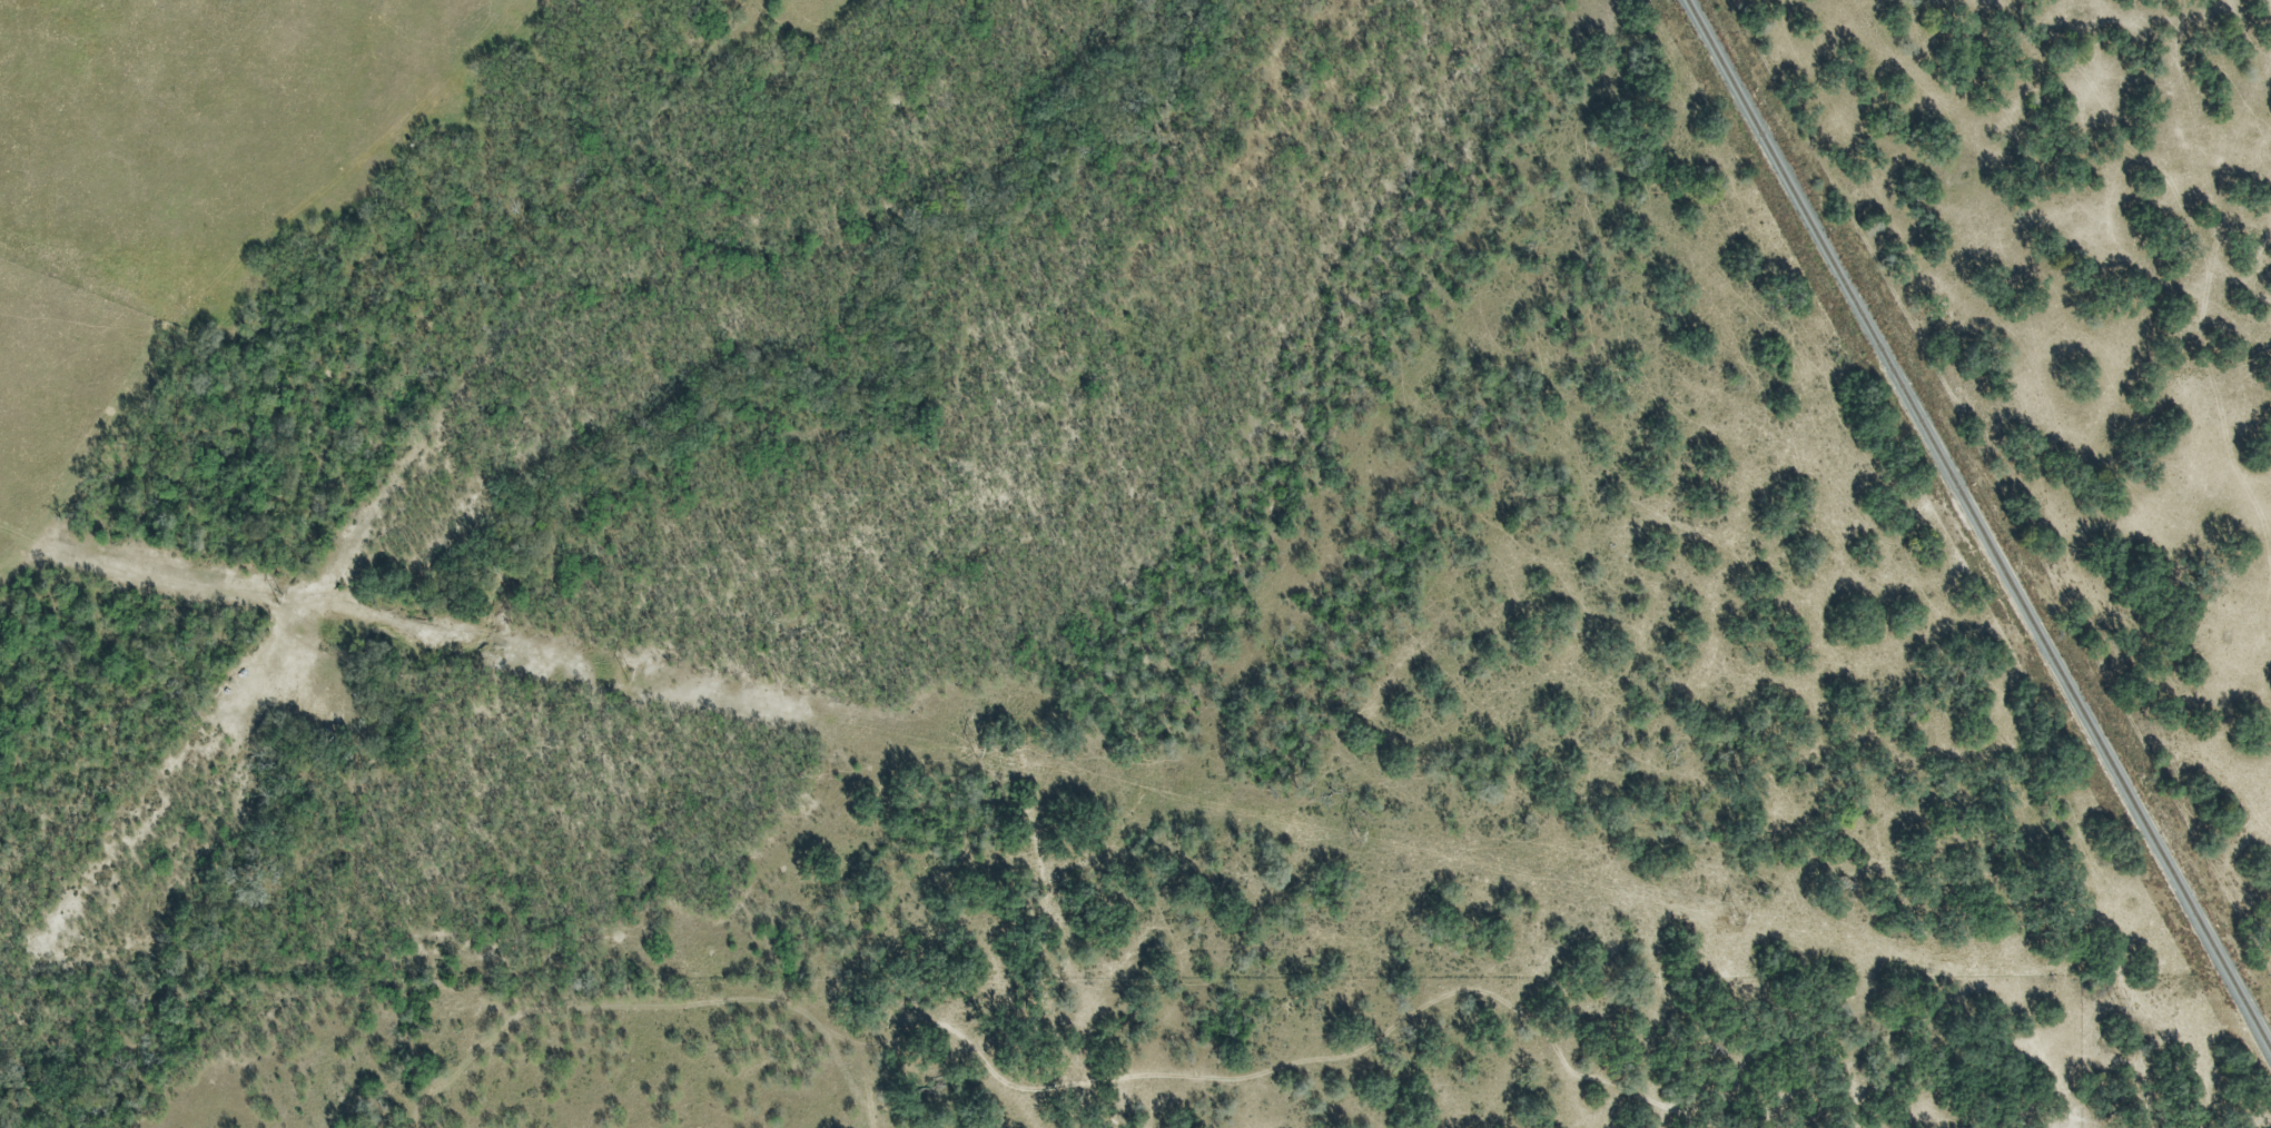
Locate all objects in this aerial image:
railway: (1977, 527)
power tower: (287, 595)
power tower: (636, 672)
power tower: (985, 749)
power tower: (1366, 833)
power tower: (1744, 917)
power tower: (2123, 1000)

